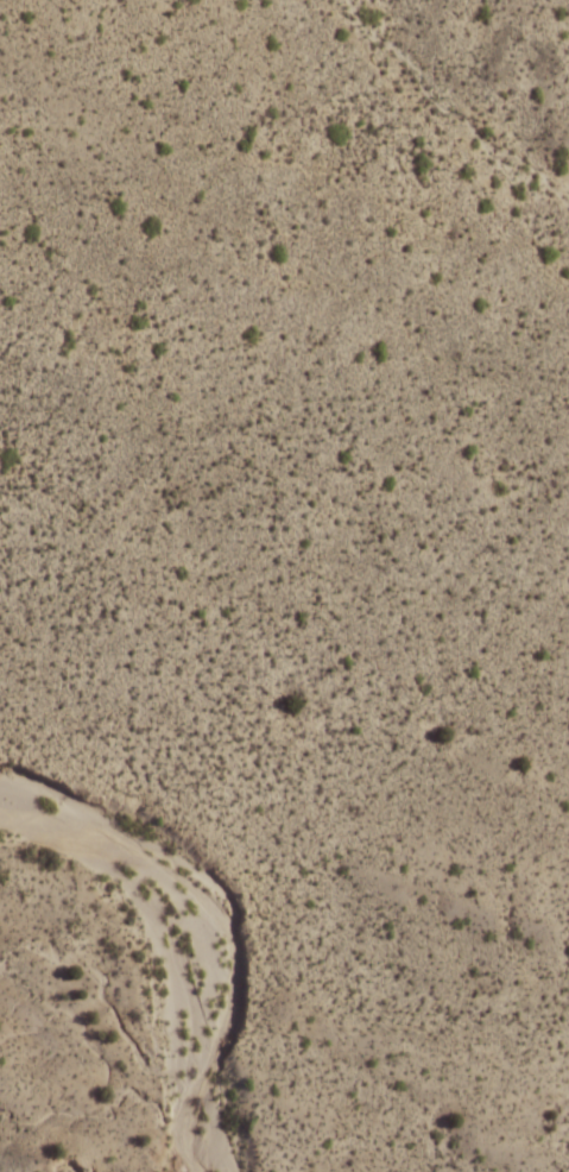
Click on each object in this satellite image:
river: (191, 928)

